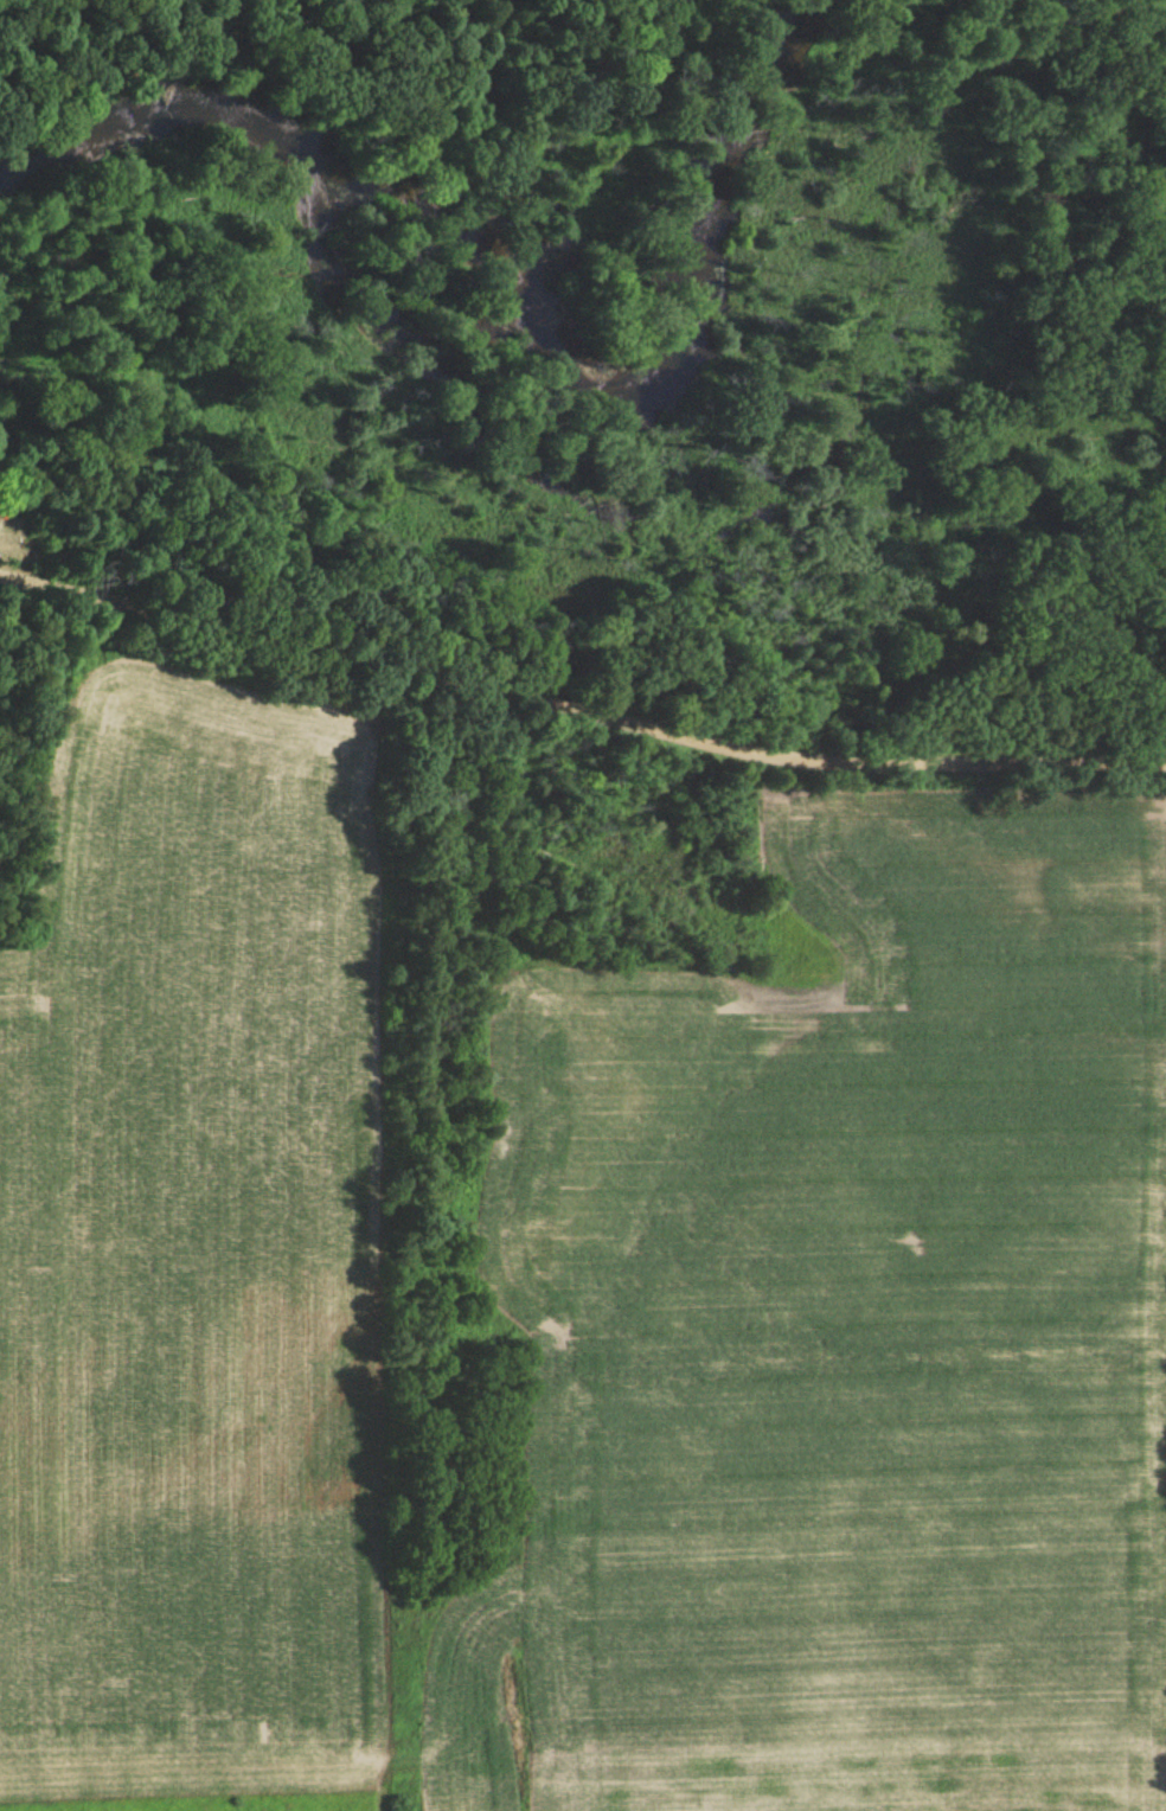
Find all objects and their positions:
river: (518, 320)
road: (578, 709)

